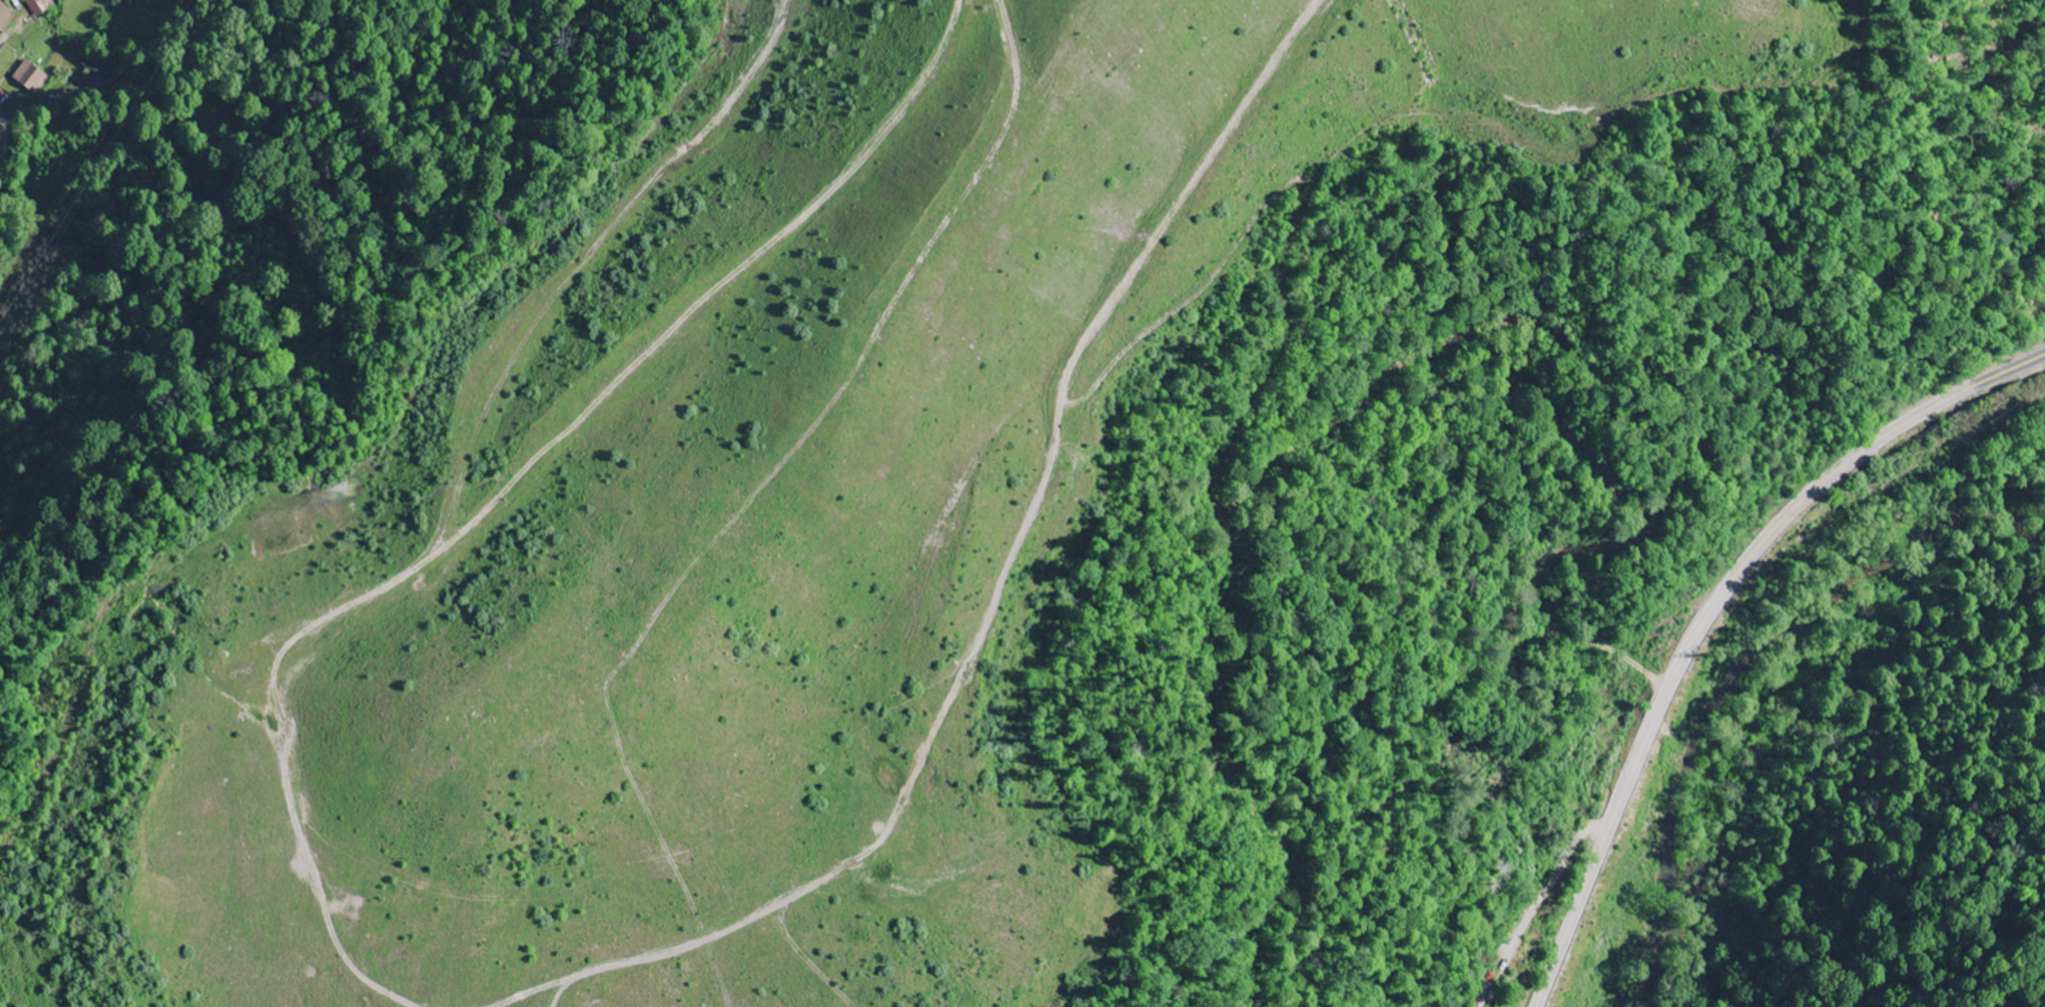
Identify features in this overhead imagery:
building: (40, 6)
building: (29, 77)
road: (1710, 614)

